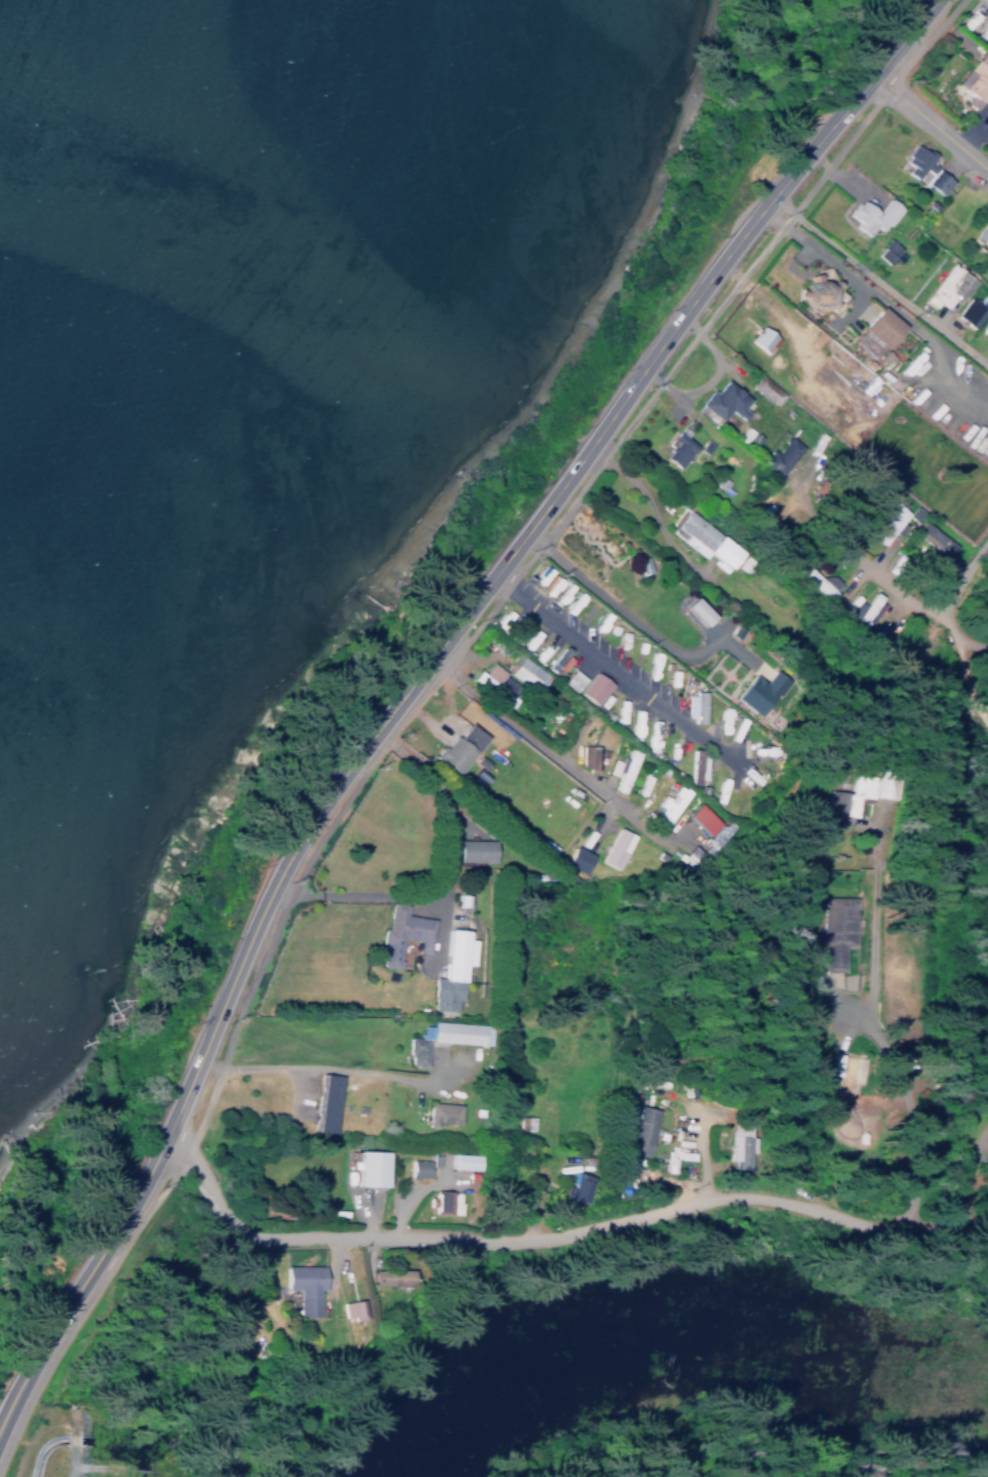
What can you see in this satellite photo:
building: (973, 80)
road: (930, 117)
building: (922, 170)
building: (871, 215)
building: (982, 233)
building: (885, 251)
road: (878, 282)
building: (946, 287)
building: (969, 311)
building: (874, 332)
building: (760, 339)
building: (763, 390)
building: (721, 401)
building: (675, 447)
building: (778, 457)
road: (652, 506)
building: (888, 522)
building: (933, 538)
building: (703, 541)
building: (821, 583)
building: (863, 608)
road: (631, 615)
building: (556, 662)
road: (617, 669)
building: (523, 674)
road: (412, 678)
building: (570, 681)
building: (493, 684)
building: (591, 689)
building: (758, 693)
building: (692, 707)
road: (528, 732)
building: (458, 748)
building: (584, 757)
building: (697, 765)
building: (620, 770)
building: (668, 804)
building: (615, 848)
building: (472, 849)
building: (575, 858)
road: (358, 891)
building: (832, 930)
building: (399, 933)
building: (448, 969)
building: (455, 1032)
building: (414, 1048)
road: (310, 1062)
building: (844, 1076)
road: (911, 1078)
building: (324, 1103)
building: (823, 1103)
building: (439, 1113)
building: (524, 1123)
building: (638, 1129)
building: (739, 1146)
building: (674, 1154)
building: (460, 1161)
building: (366, 1167)
building: (417, 1168)
building: (575, 1186)
building: (442, 1202)
road: (557, 1230)
building: (387, 1276)
building: (301, 1287)
building: (348, 1308)
dam: (79, 1473)

